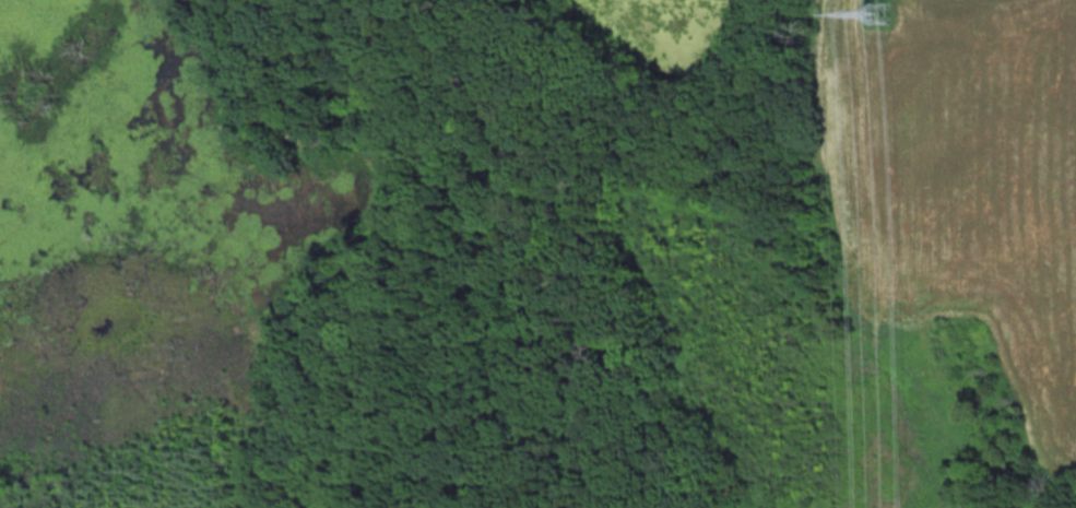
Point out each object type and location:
power tower: (878, 13)
park: (449, 255)

